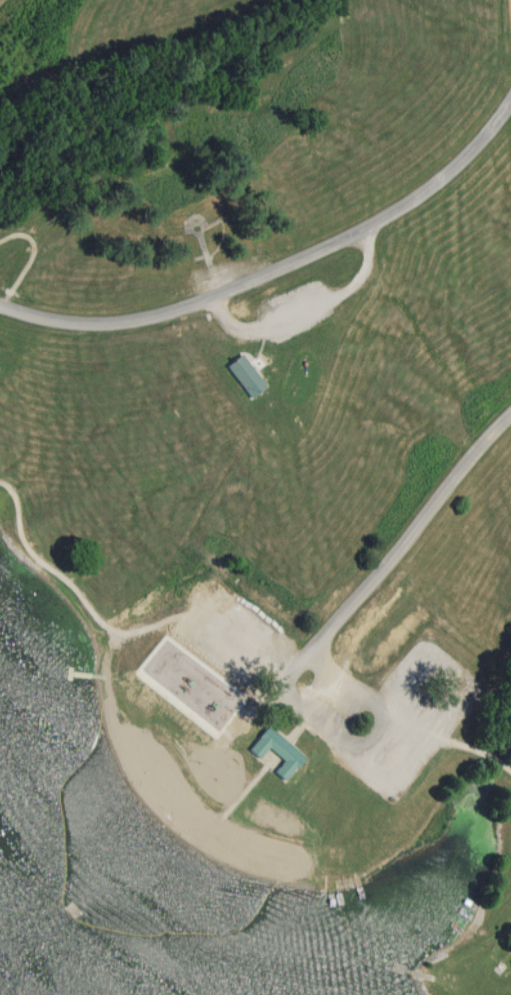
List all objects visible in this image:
road: (277, 265)
road: (306, 308)
building: (245, 375)
park: (273, 455)
road: (390, 566)
building: (277, 749)

